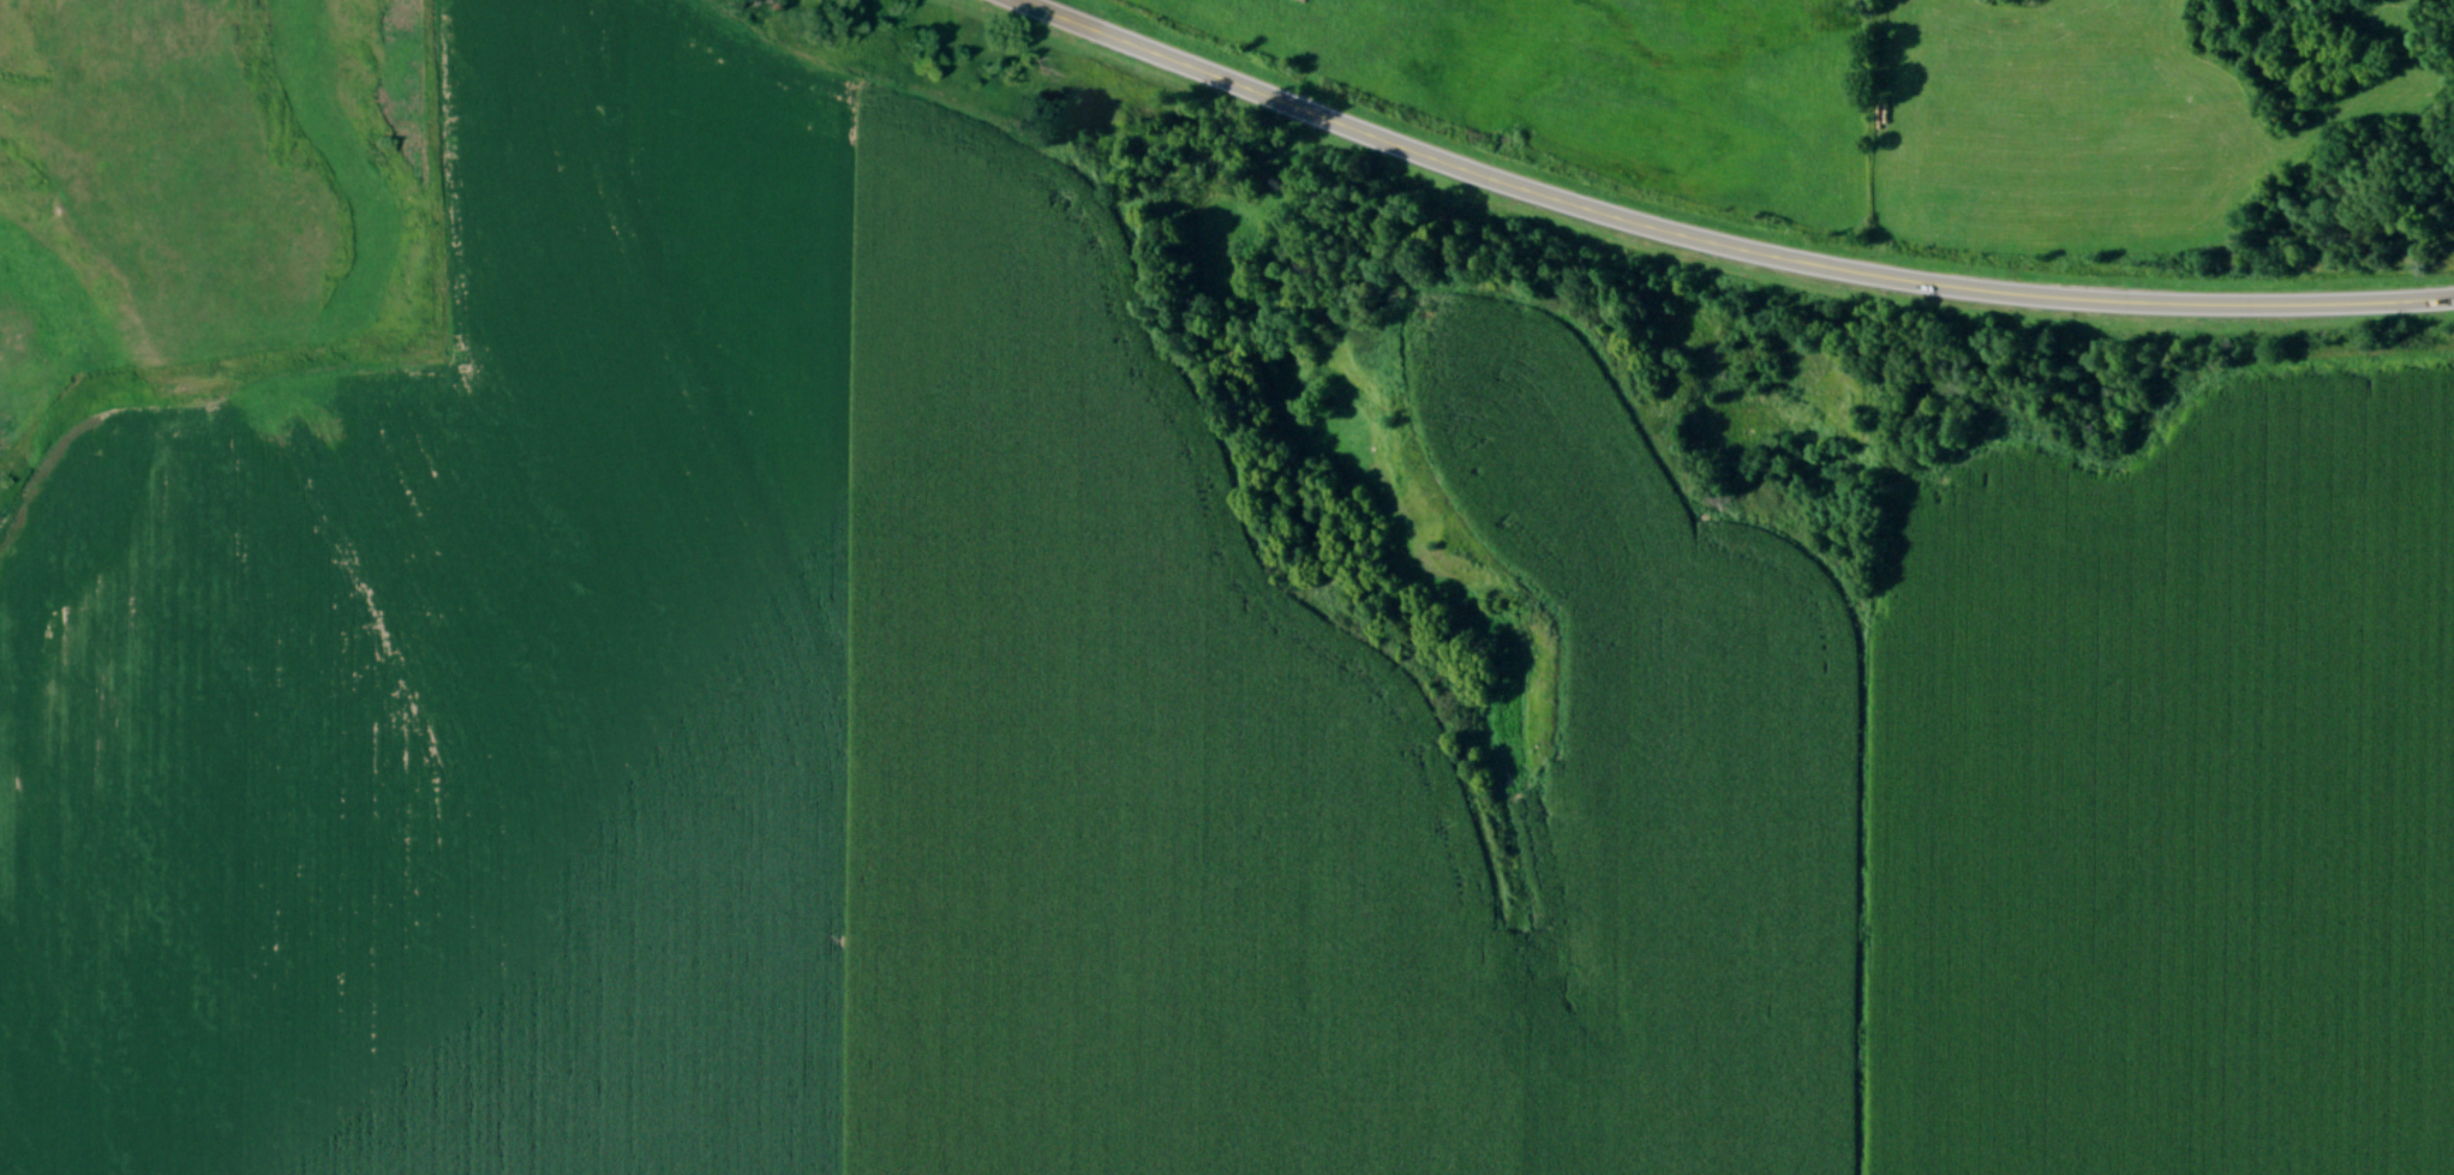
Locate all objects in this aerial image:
road: (1720, 245)

